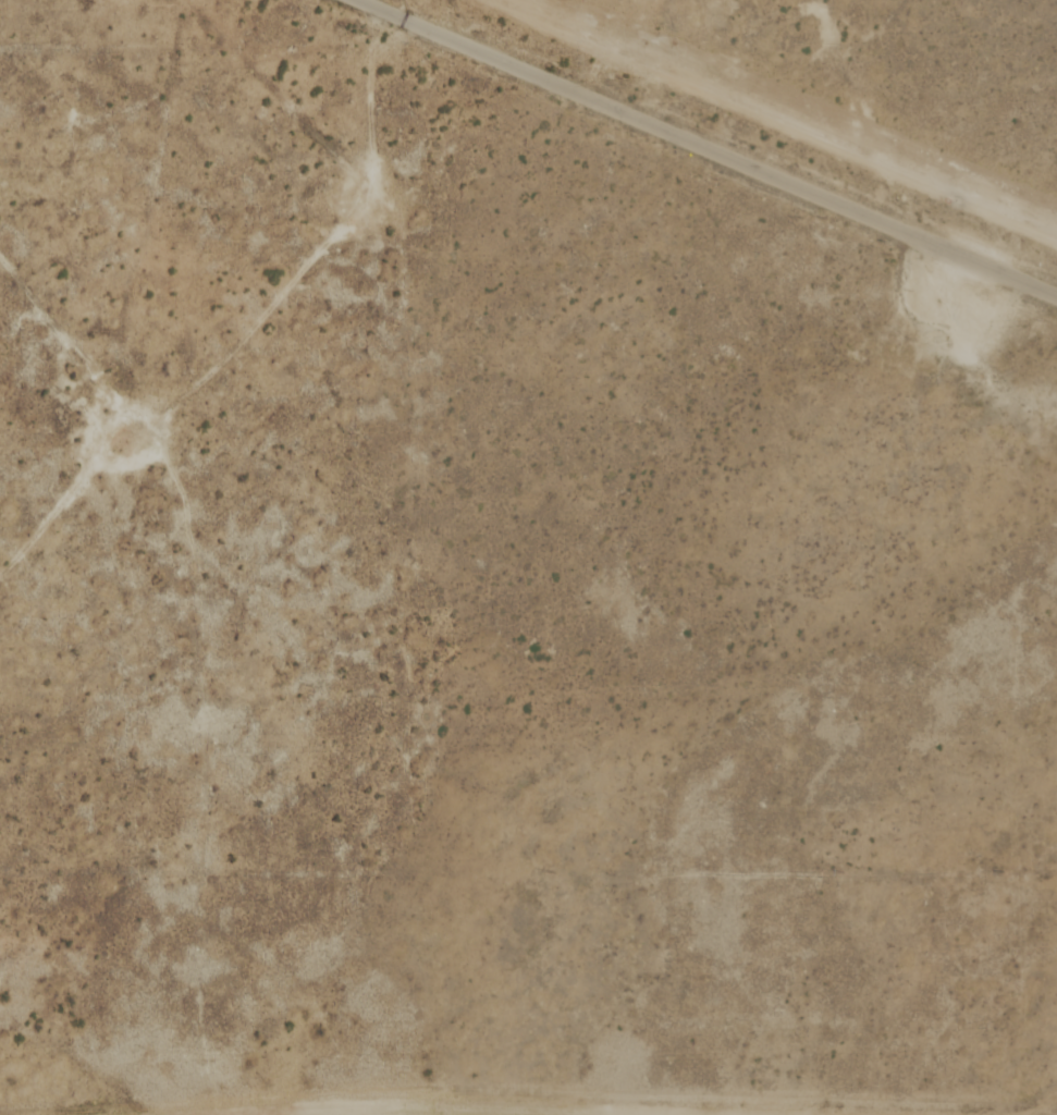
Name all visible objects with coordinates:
road: (706, 149)
road: (247, 298)
road: (57, 368)

